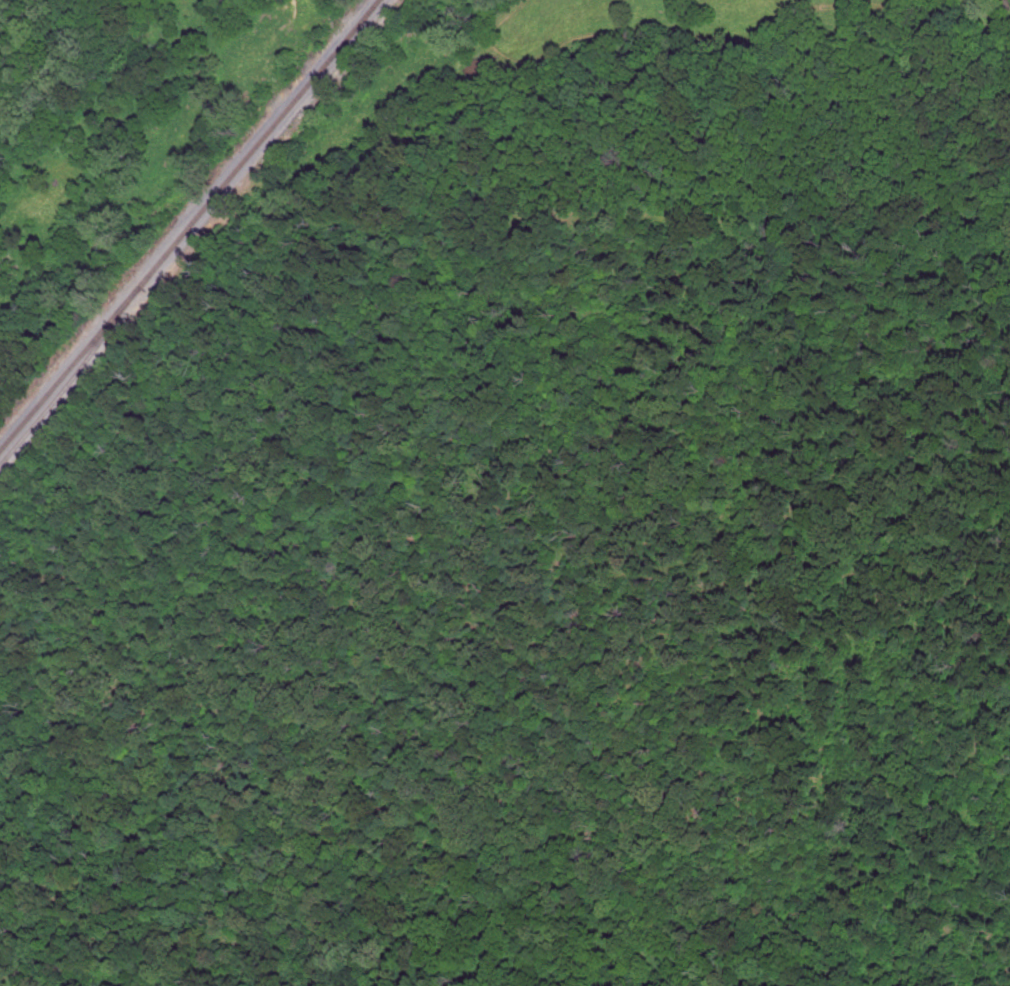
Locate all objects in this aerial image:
railway: (191, 225)
railway: (60, 392)

